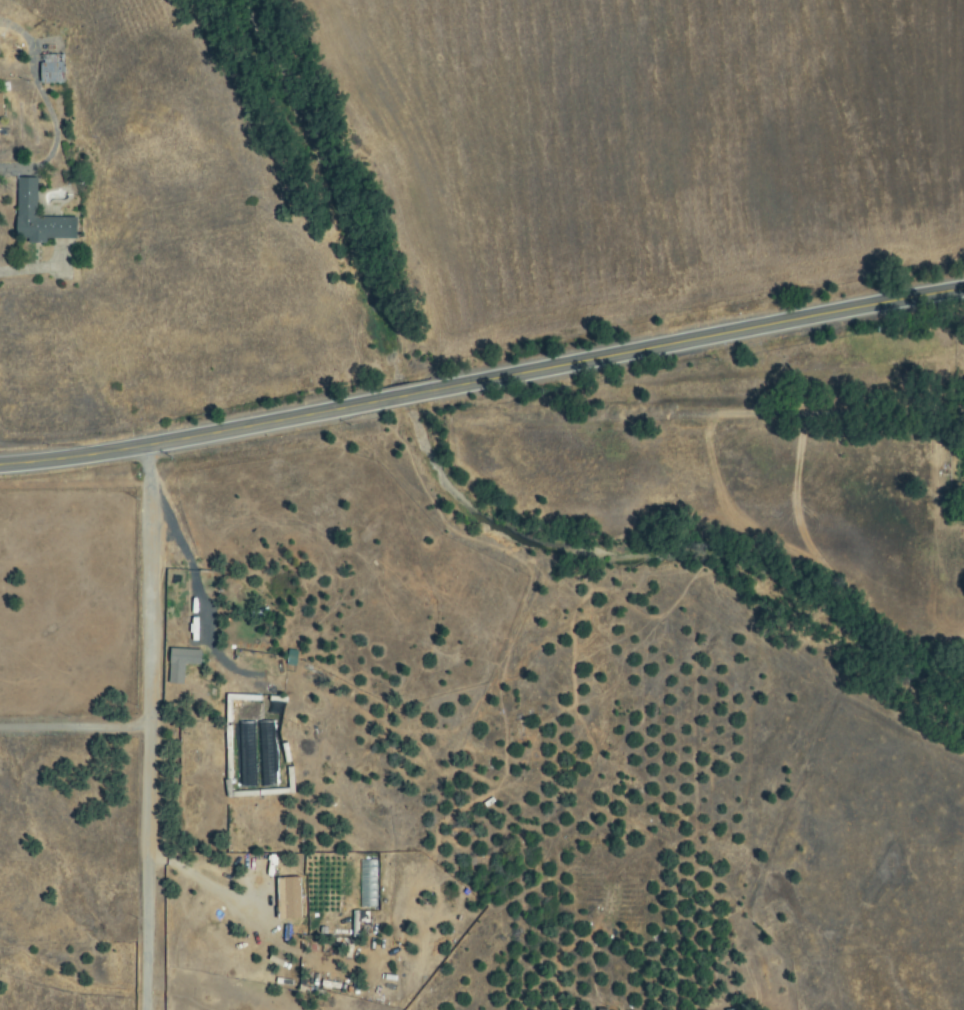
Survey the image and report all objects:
building: (55, 69)
building: (4, 110)
road: (746, 197)
building: (42, 217)
road: (482, 382)
road: (961, 408)
building: (184, 663)
road: (310, 714)
road: (74, 728)
road: (148, 728)
building: (295, 898)
building: (596, 1009)
building: (730, 1009)

